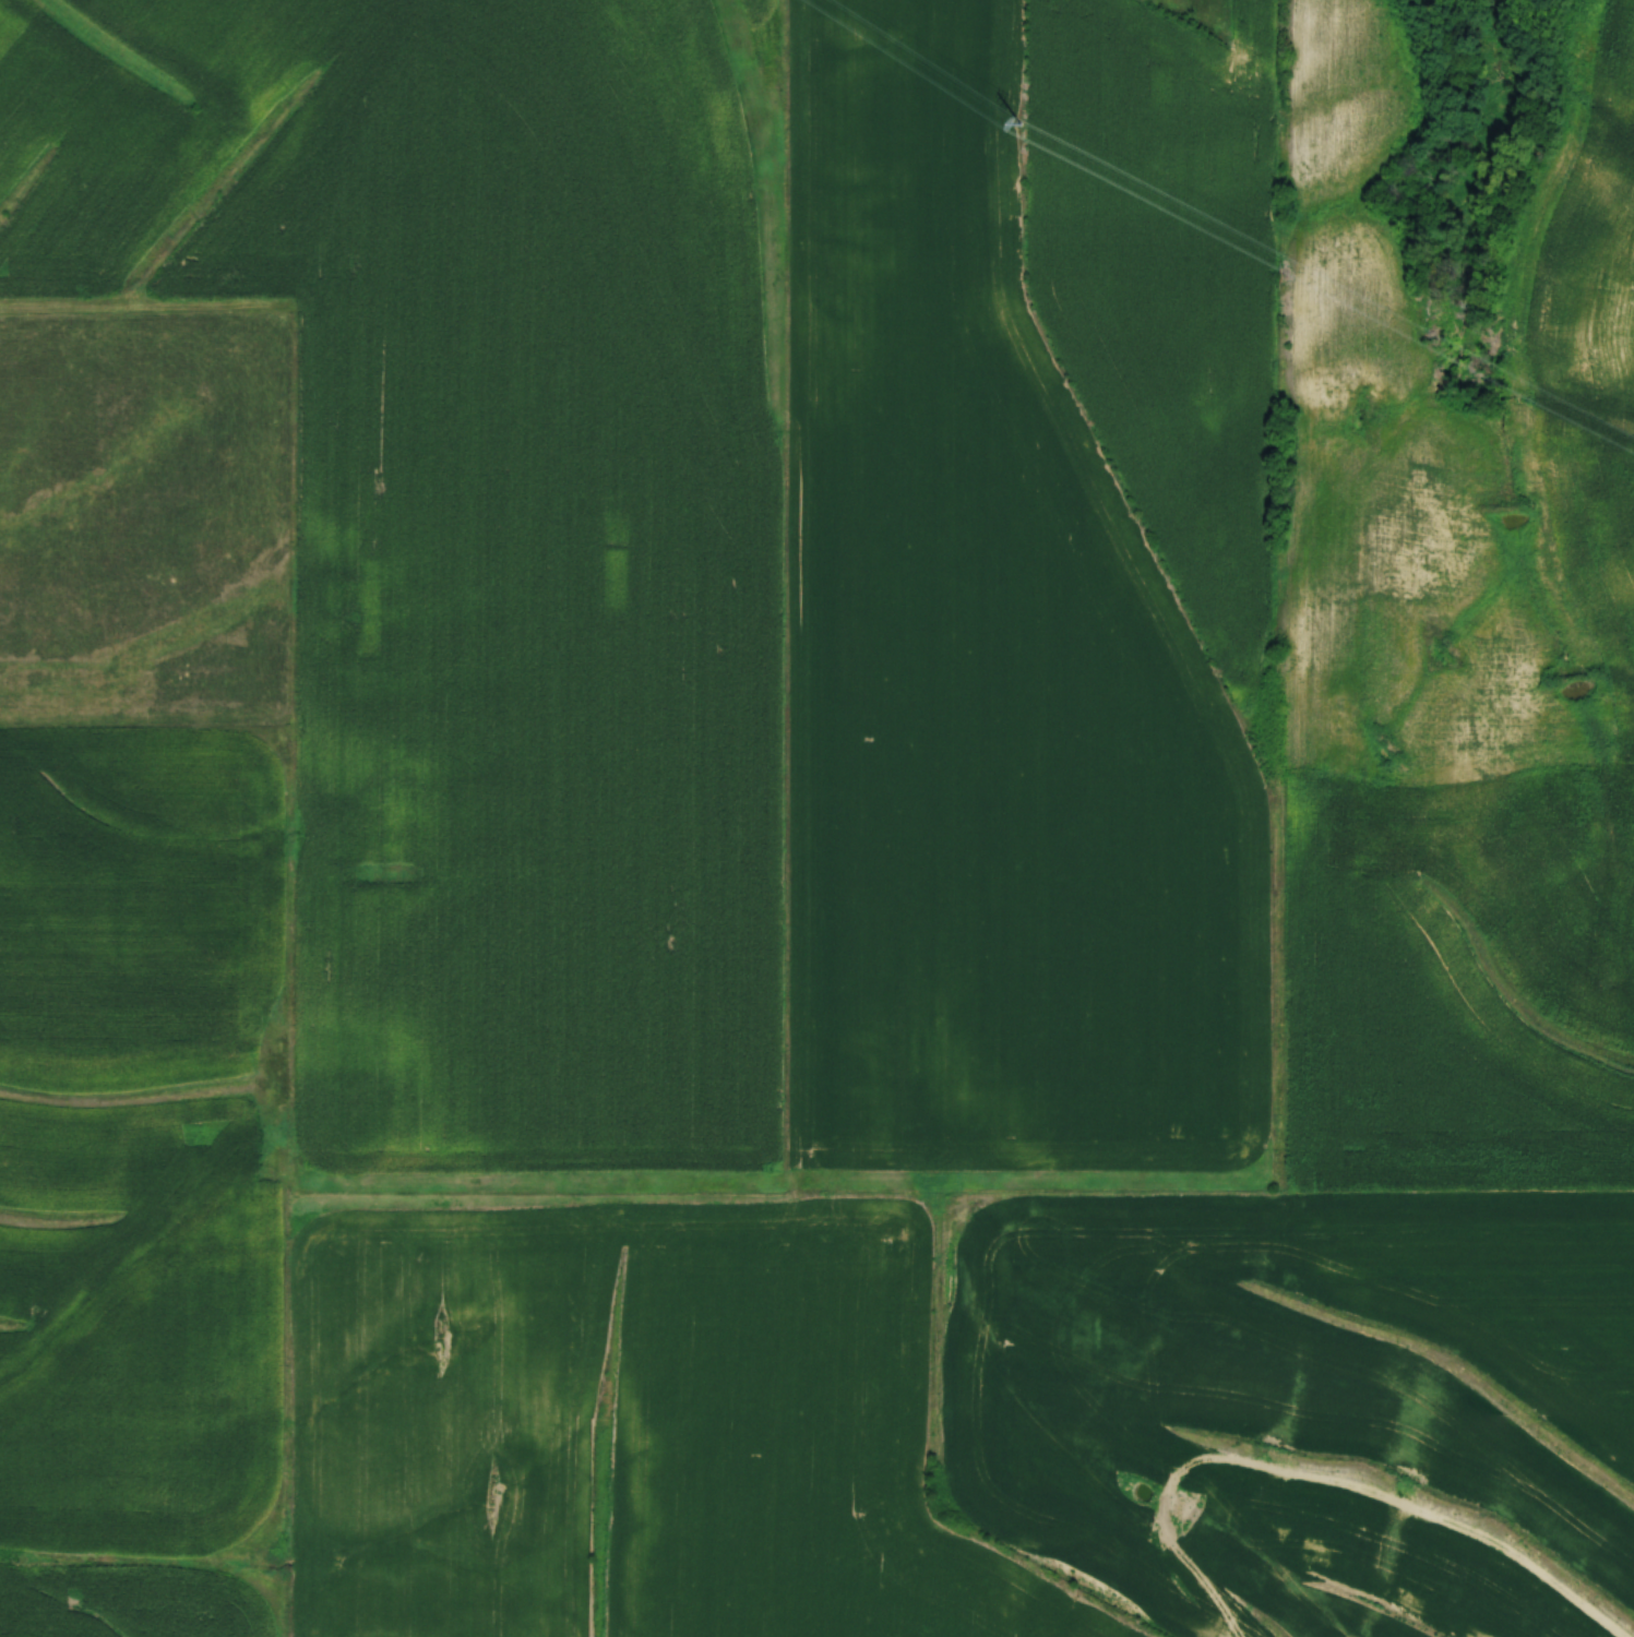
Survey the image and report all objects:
power tower: (1023, 126)

